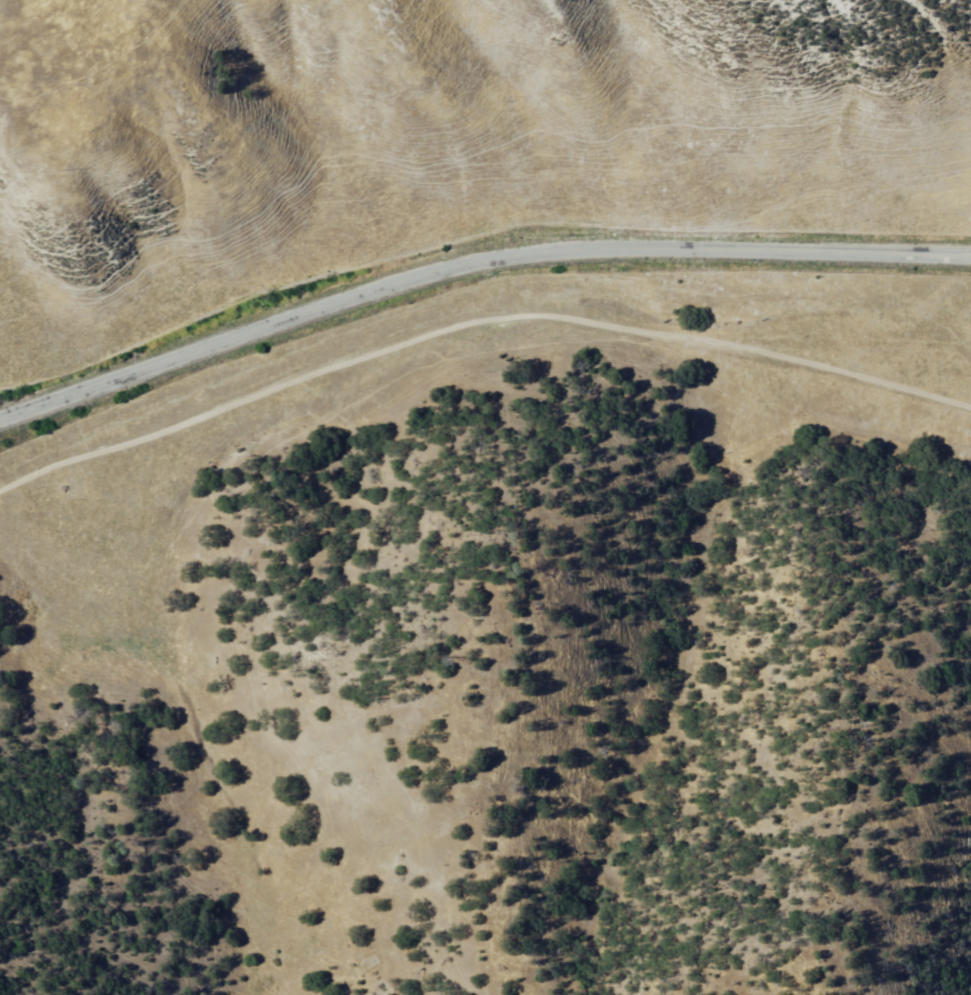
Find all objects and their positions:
road: (472, 261)
road: (475, 316)

